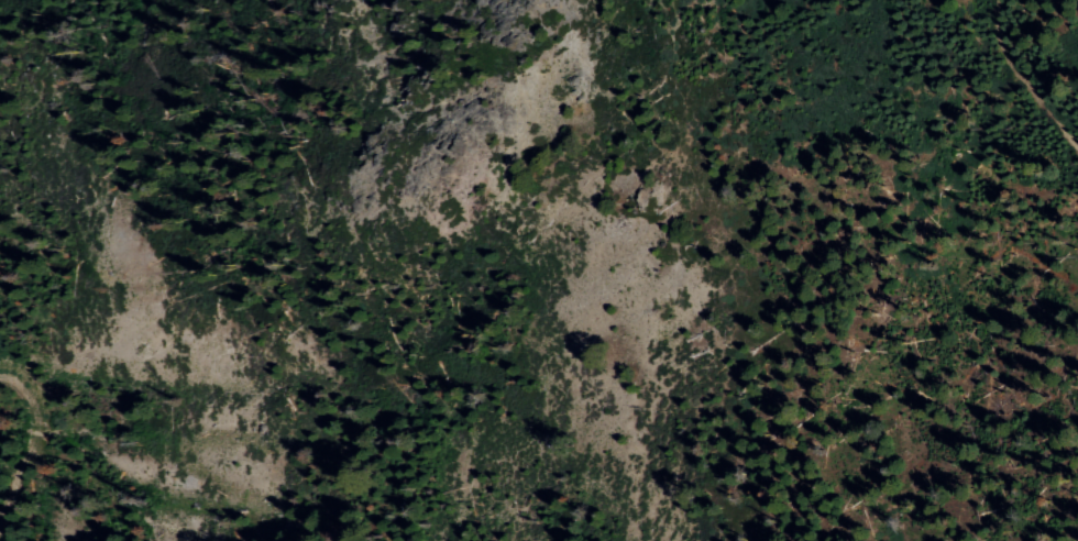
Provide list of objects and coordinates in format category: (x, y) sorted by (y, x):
road: (1025, 77)
road: (36, 445)

